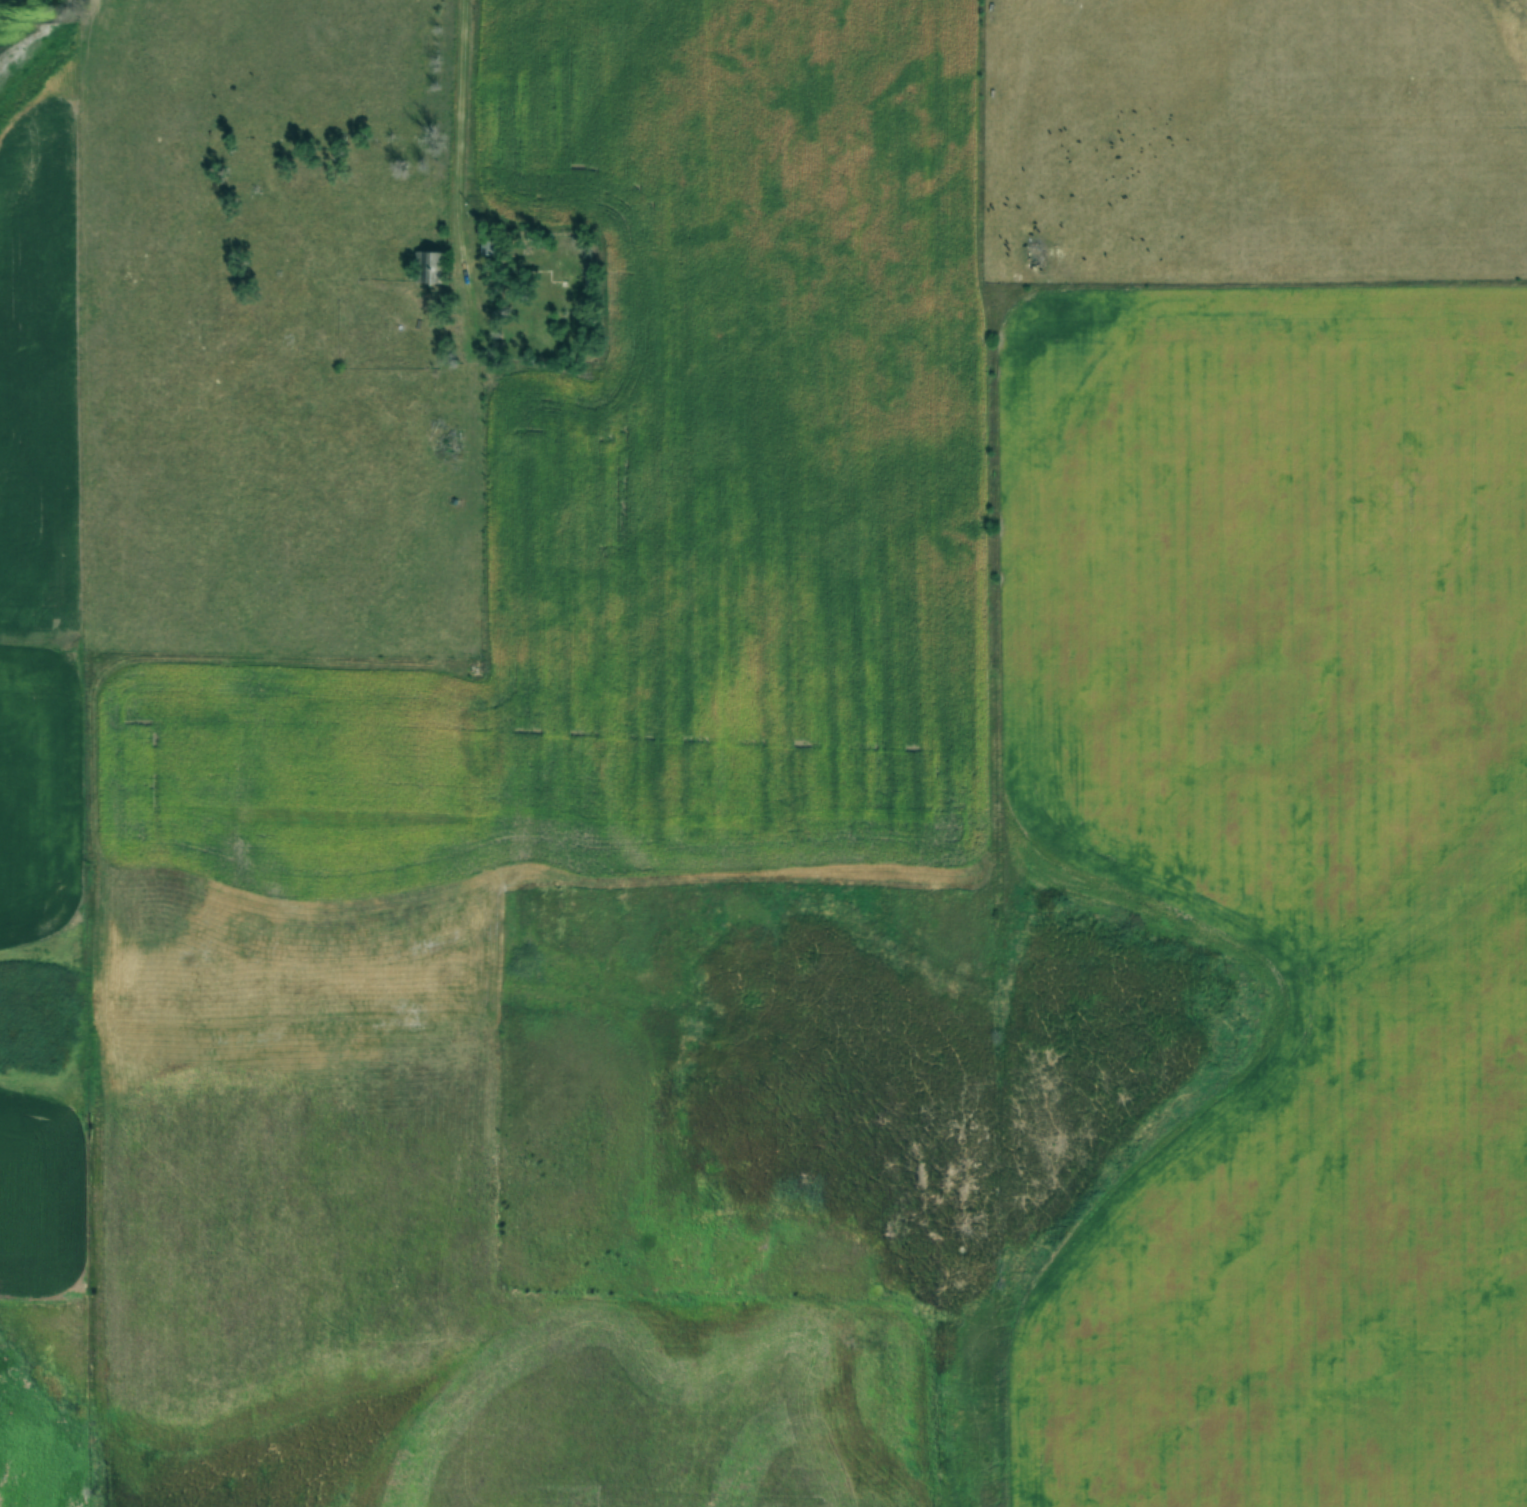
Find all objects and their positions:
road: (456, 168)
building: (568, 267)

